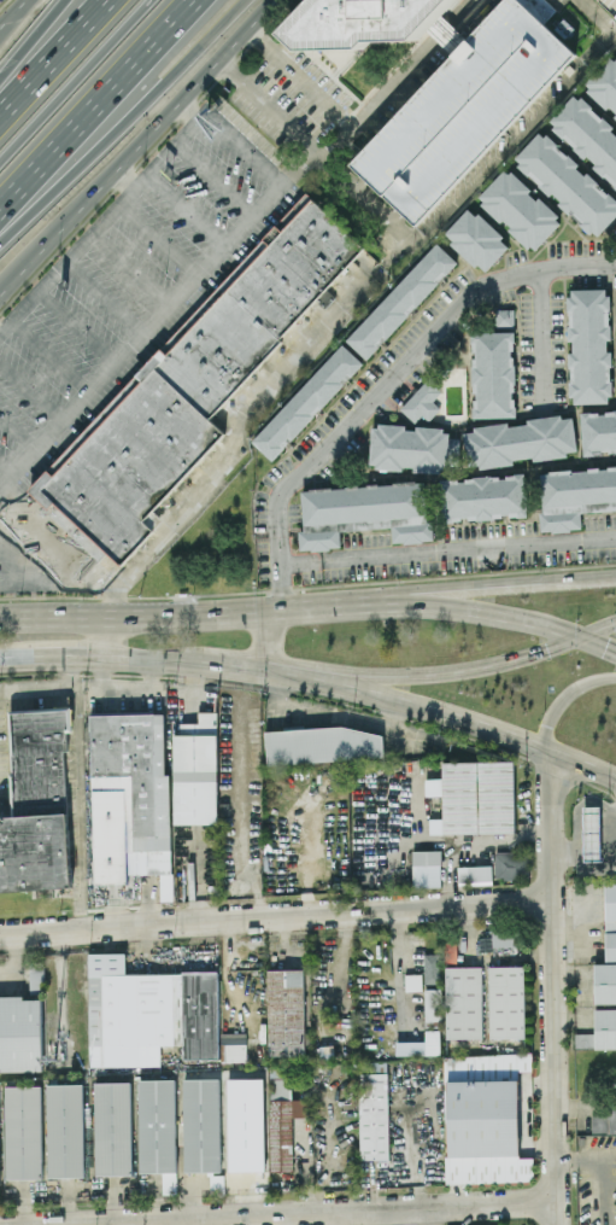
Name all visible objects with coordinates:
road: (599, 14)
road: (14, 16)
building: (364, 22)
road: (603, 46)
road: (52, 56)
road: (300, 78)
road: (401, 80)
road: (75, 81)
building: (464, 107)
road: (102, 110)
road: (123, 112)
road: (135, 147)
road: (245, 148)
building: (564, 168)
road: (125, 179)
road: (216, 180)
road: (189, 209)
road: (107, 215)
road: (160, 239)
building: (476, 239)
road: (133, 269)
road: (105, 298)
building: (401, 301)
building: (504, 317)
road: (159, 319)
road: (334, 320)
road: (77, 327)
road: (542, 337)
building: (589, 345)
road: (413, 354)
road: (49, 357)
building: (493, 374)
road: (30, 391)
building: (182, 396)
building: (422, 401)
building: (307, 402)
road: (18, 431)
building: (599, 431)
building: (521, 441)
building: (412, 448)
road: (4, 473)
building: (575, 496)
building: (483, 497)
building: (364, 513)
road: (447, 548)
road: (281, 571)
road: (611, 576)
road: (520, 583)
road: (49, 587)
road: (397, 595)
road: (395, 603)
road: (209, 611)
road: (505, 617)
road: (29, 620)
road: (597, 630)
road: (108, 637)
traffic signals: (579, 637)
road: (266, 640)
road: (597, 643)
road: (58, 658)
road: (153, 659)
road: (5, 661)
road: (233, 666)
road: (488, 666)
road: (301, 676)
road: (366, 681)
road: (37, 690)
road: (365, 690)
road: (567, 698)
road: (505, 734)
building: (319, 745)
building: (136, 771)
building: (196, 771)
road: (77, 793)
building: (479, 798)
building: (36, 803)
building: (592, 834)
gas station: (592, 834)
road: (587, 848)
building: (511, 865)
building: (427, 869)
building: (475, 874)
road: (275, 918)
building: (504, 938)
building: (432, 968)
building: (36, 975)
building: (606, 978)
building: (413, 981)
road: (551, 986)
building: (505, 1001)
building: (463, 1002)
building: (433, 1004)
building: (286, 1011)
building: (148, 1013)
building: (19, 1033)
building: (420, 1044)
building: (234, 1046)
building: (374, 1110)
building: (282, 1118)
building: (483, 1118)
building: (200, 1125)
building: (244, 1125)
building: (111, 1127)
building: (66, 1130)
building: (157, 1130)
building: (25, 1132)
building: (0, 1166)
road: (602, 1171)
road: (322, 1214)

